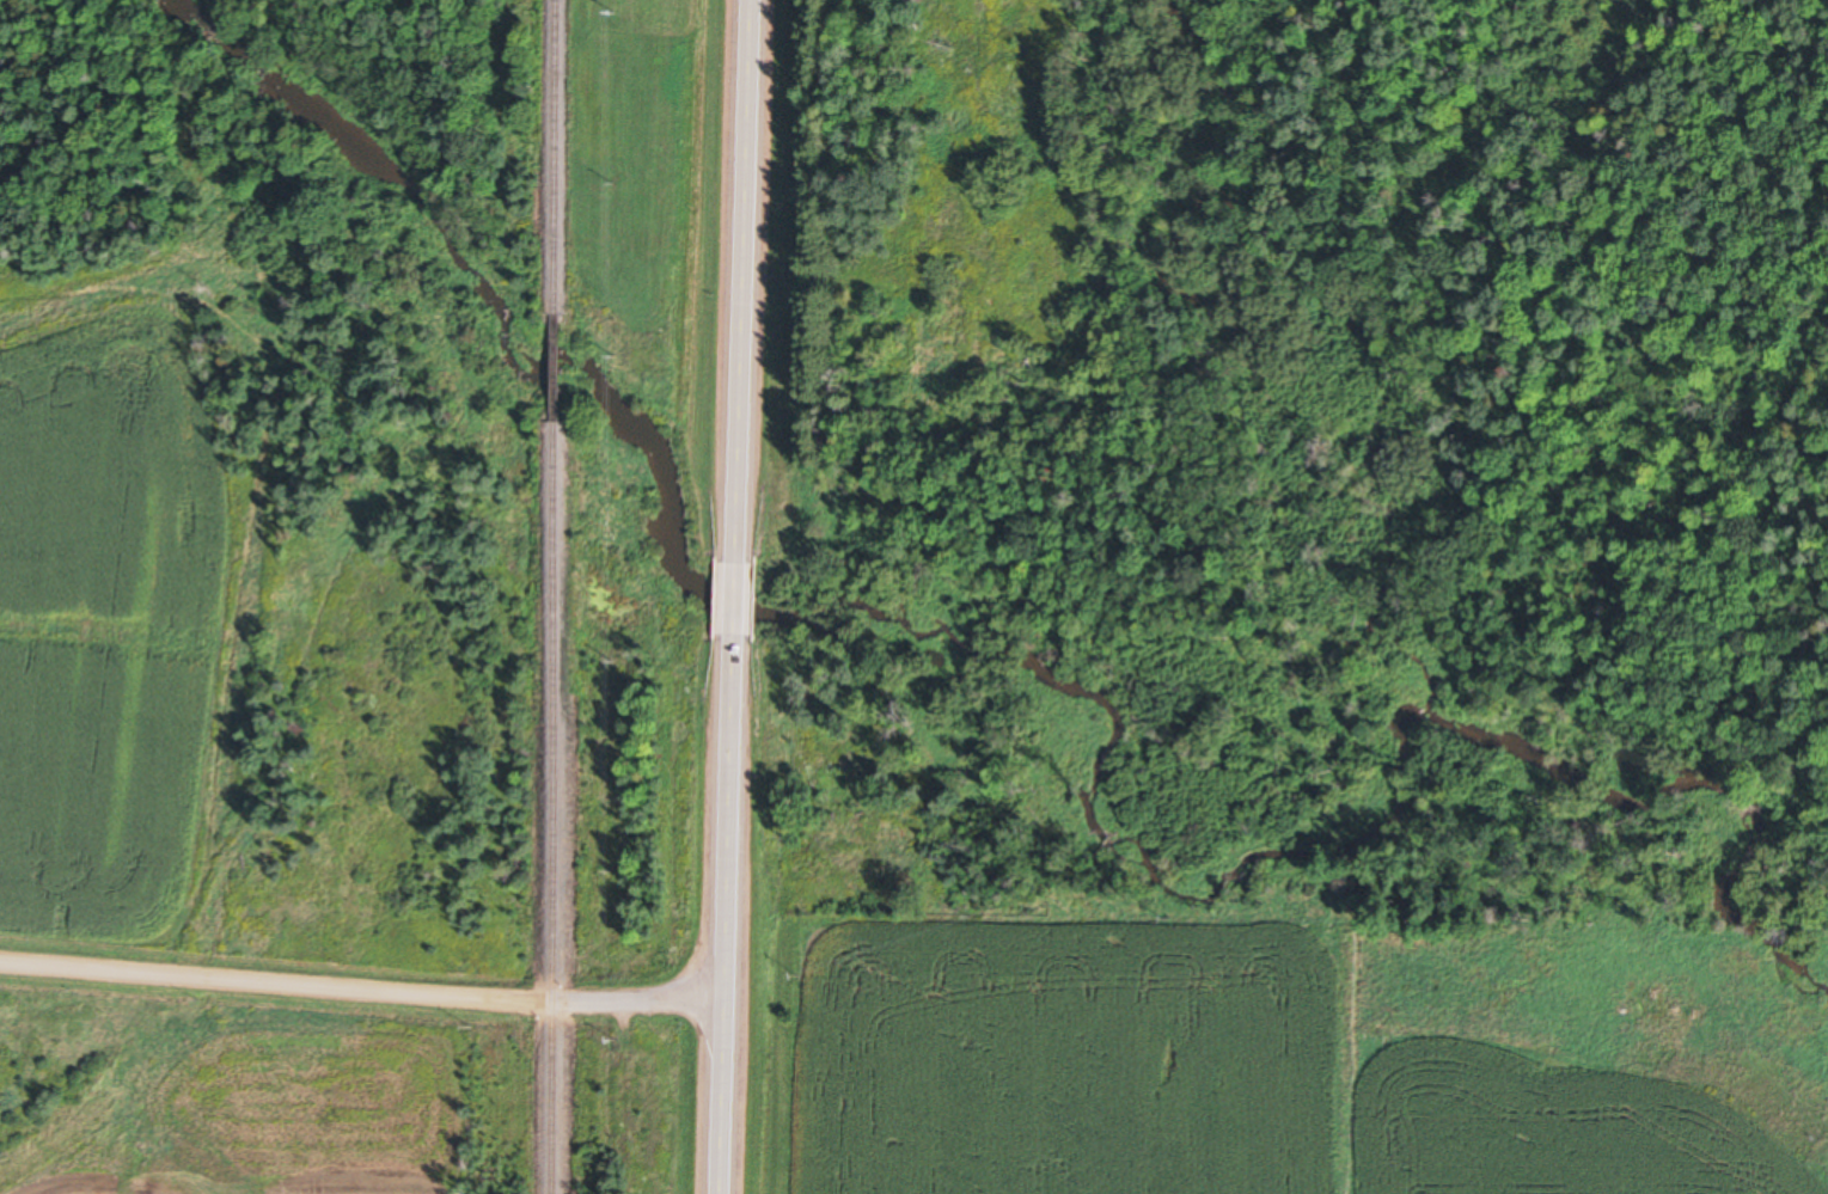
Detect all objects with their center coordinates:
railway: (561, 155)
railway: (561, 365)
road: (740, 596)
railway: (558, 806)
road: (363, 988)

